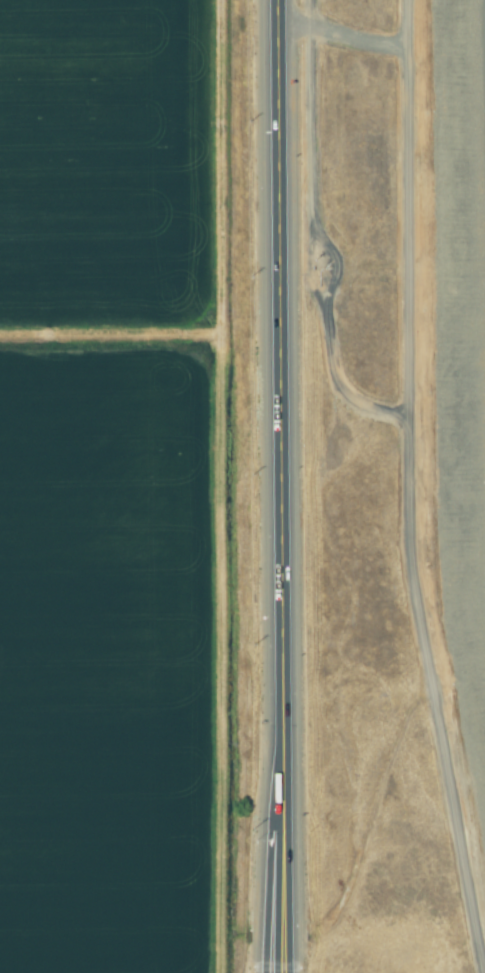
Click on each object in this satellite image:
road: (284, 486)

